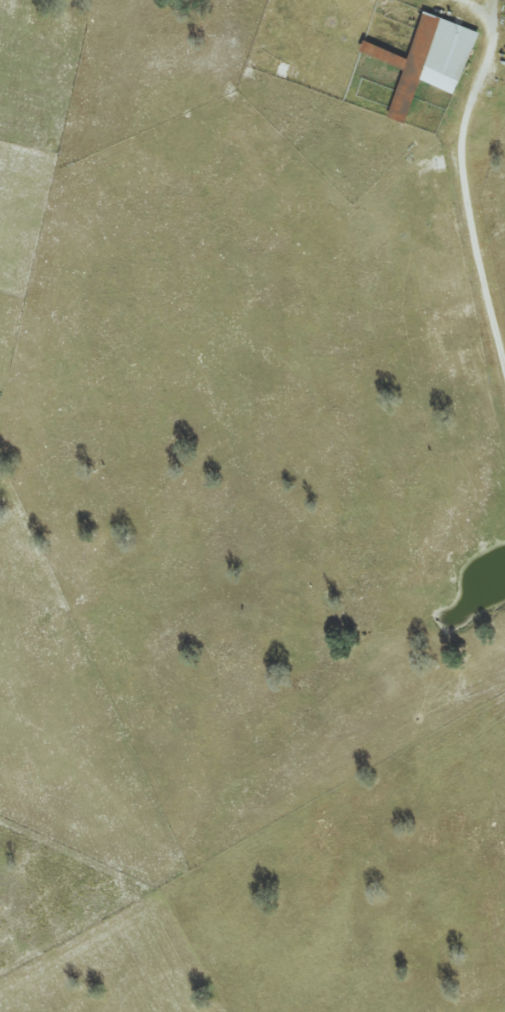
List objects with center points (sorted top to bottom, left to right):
building: (428, 60)
road: (464, 180)

